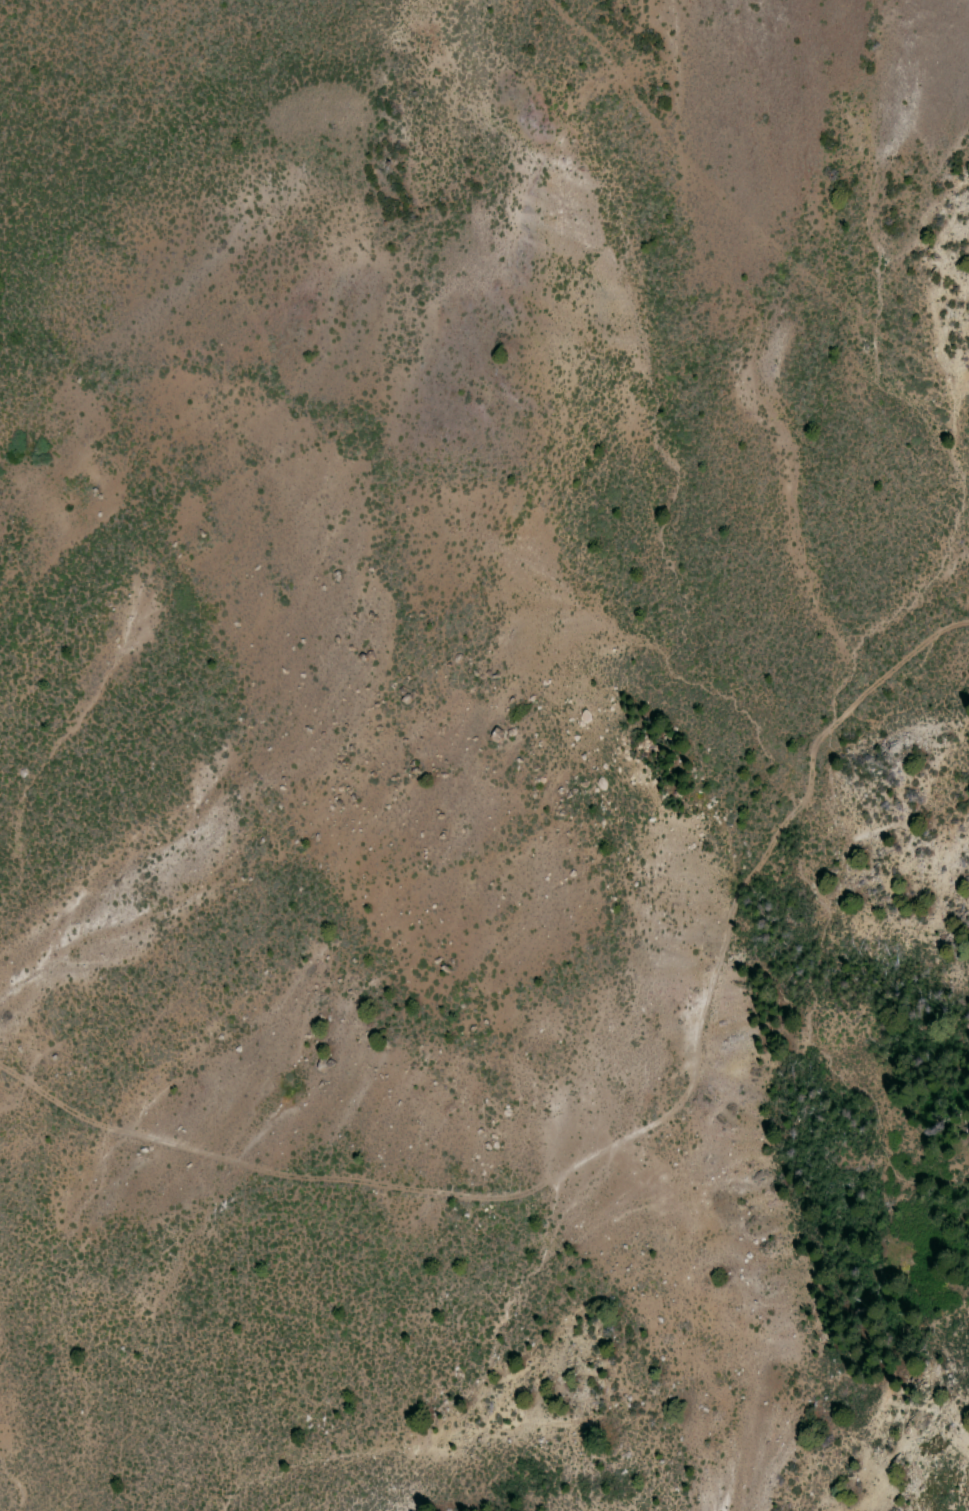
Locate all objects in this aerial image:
road: (732, 218)
road: (622, 1144)

